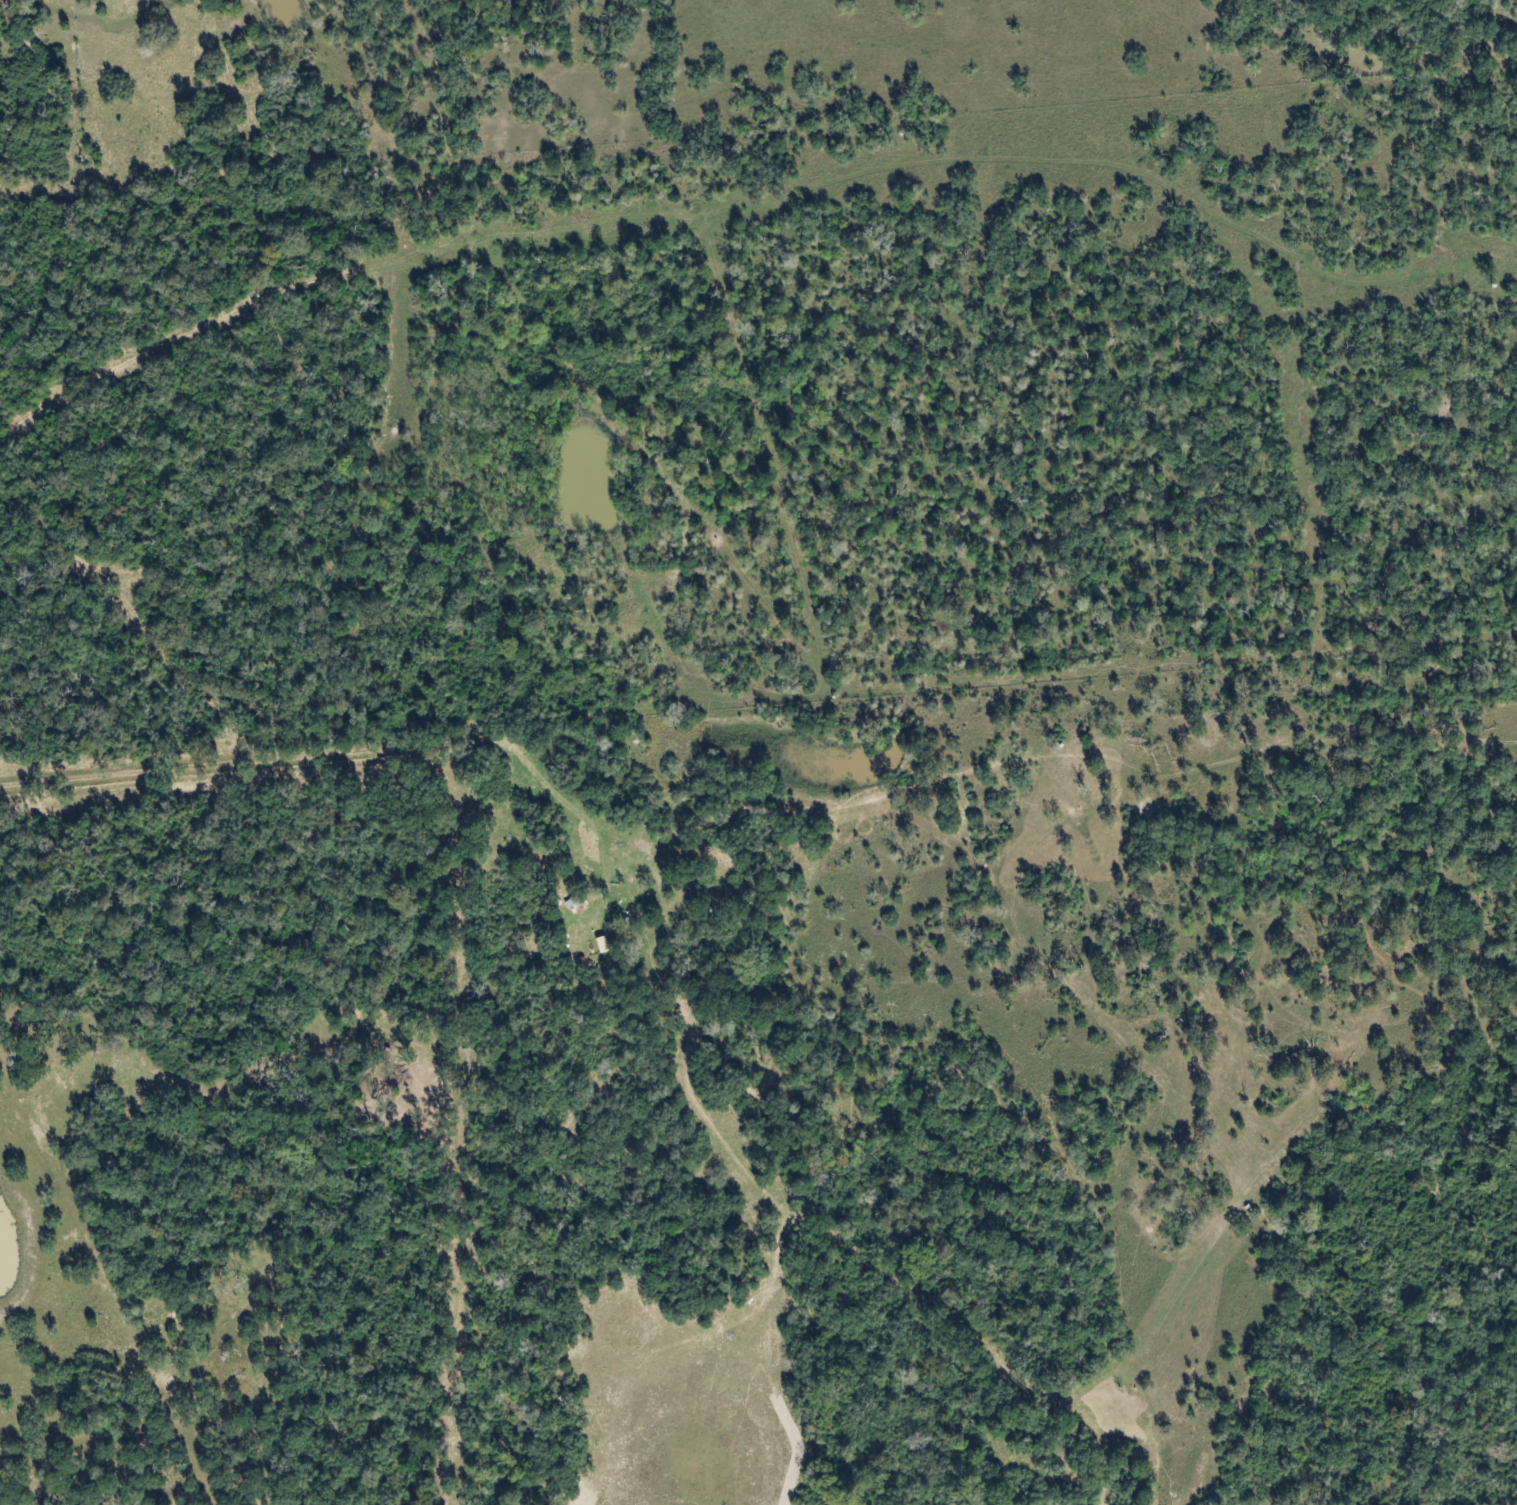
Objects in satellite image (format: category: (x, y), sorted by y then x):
road: (235, 758)

